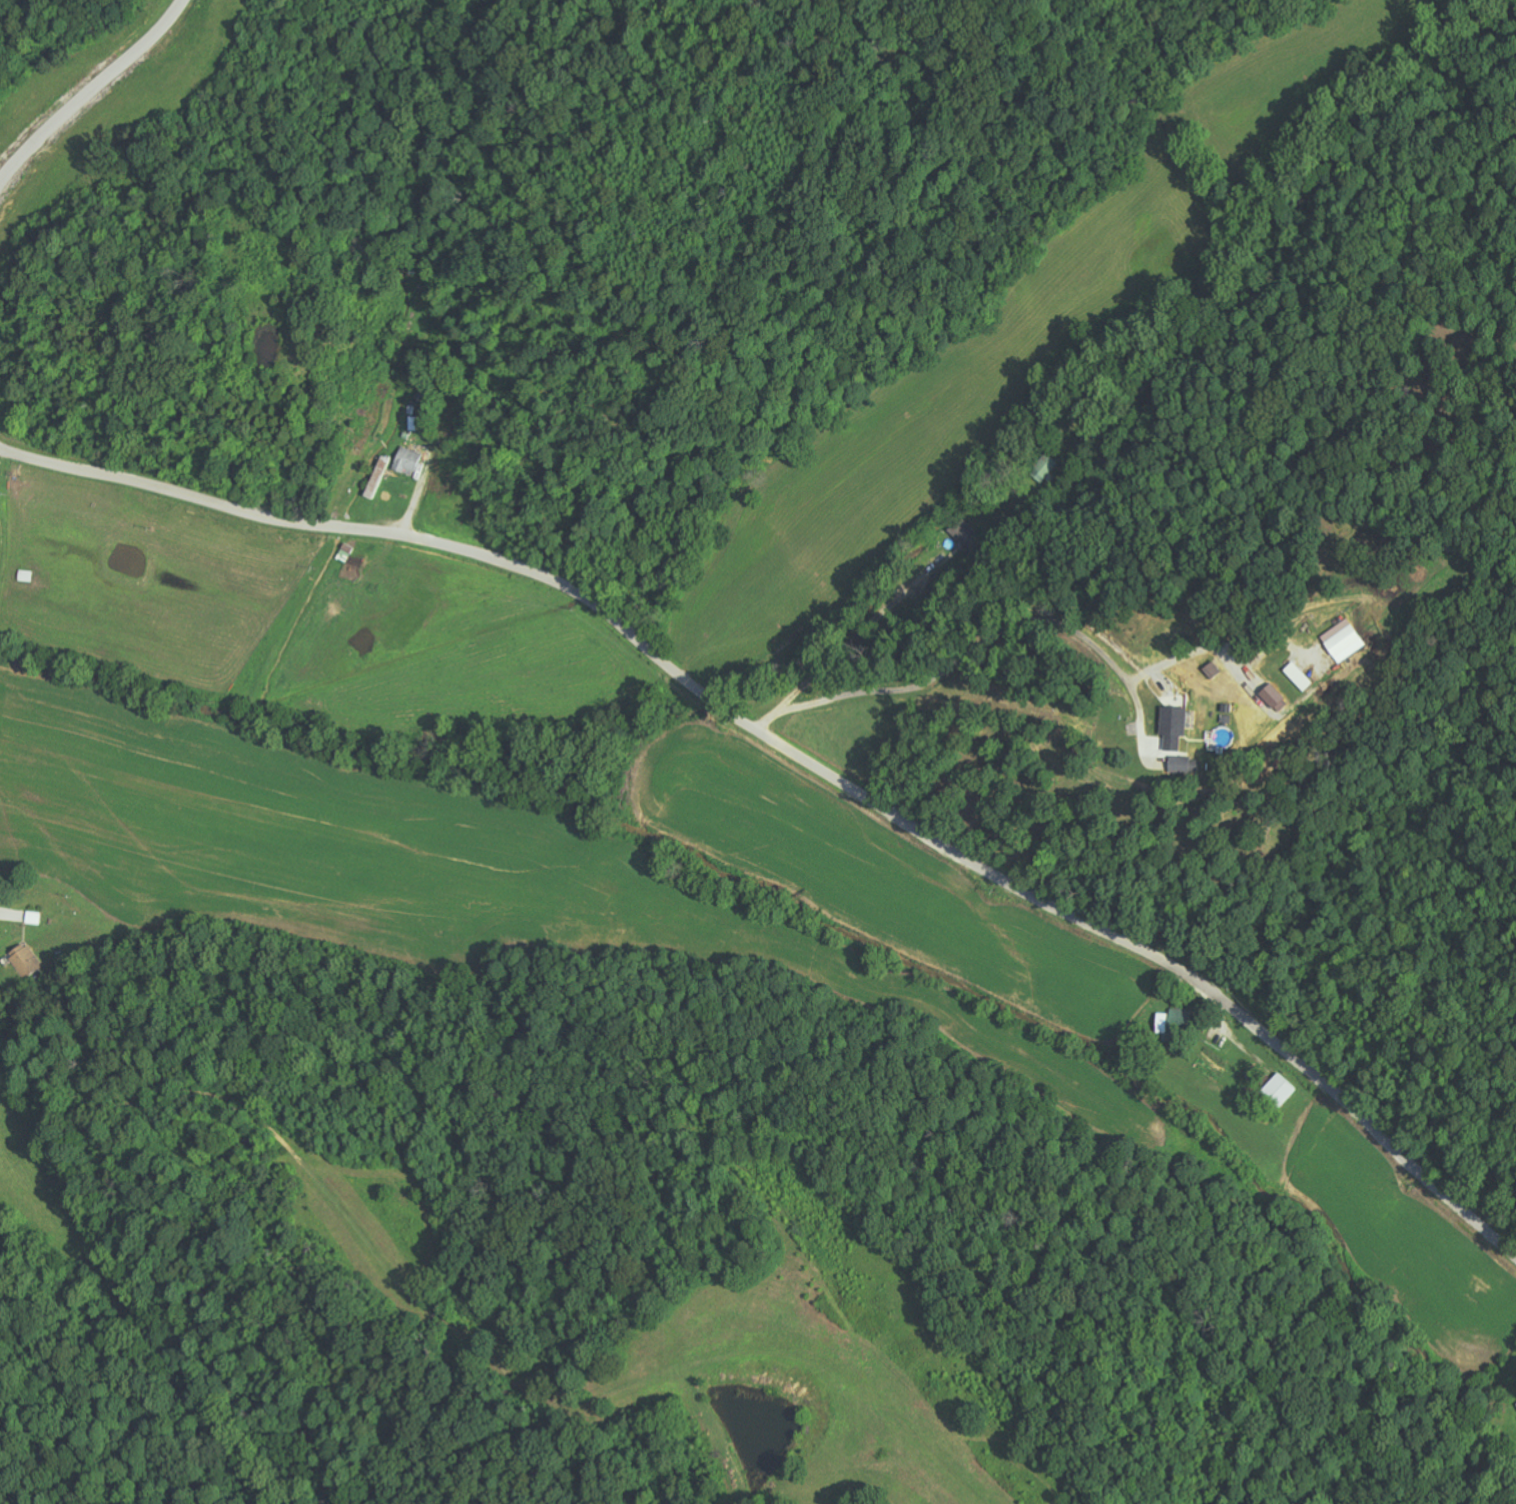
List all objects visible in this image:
road: (105, 87)
building: (406, 460)
building: (1343, 639)
building: (1175, 724)
road: (802, 759)
building: (26, 962)
building: (1173, 1021)
building: (1275, 1091)

